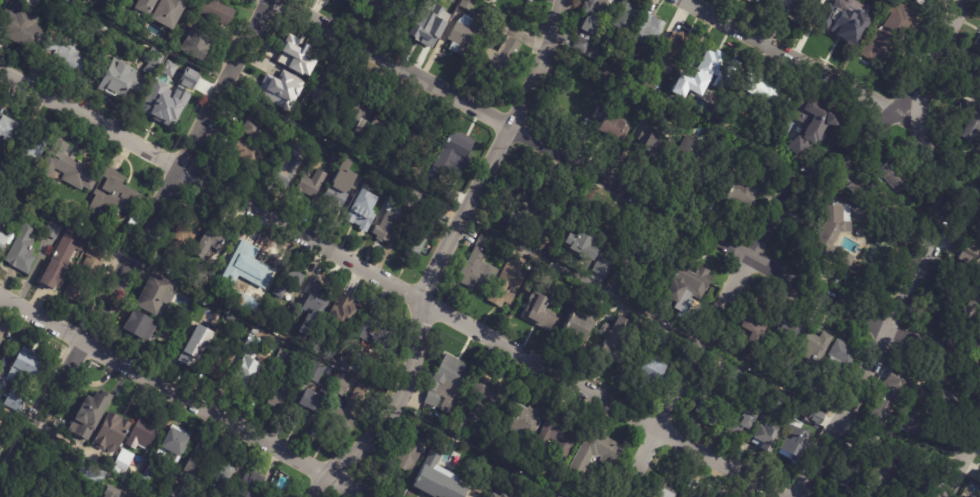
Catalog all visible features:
building: (88, 0)
building: (344, 0)
building: (529, 0)
building: (532, 0)
building: (746, 0)
building: (90, 1)
building: (757, 1)
building: (24, 2)
building: (921, 2)
building: (470, 4)
building: (146, 6)
building: (396, 6)
building: (792, 6)
building: (214, 9)
building: (171, 11)
building: (589, 15)
building: (619, 16)
building: (840, 17)
building: (435, 24)
building: (646, 27)
building: (23, 28)
building: (104, 32)
building: (887, 35)
building: (465, 36)
building: (201, 44)
building: (579, 44)
building: (979, 44)
building: (671, 53)
building: (173, 56)
road: (800, 56)
building: (65, 57)
building: (296, 58)
building: (501, 60)
building: (155, 61)
building: (698, 73)
building: (973, 73)
building: (606, 74)
building: (727, 74)
building: (121, 80)
building: (328, 87)
building: (280, 89)
building: (178, 94)
building: (762, 94)
building: (975, 95)
building: (357, 101)
building: (805, 119)
building: (390, 121)
building: (606, 123)
building: (966, 125)
building: (263, 127)
building: (10, 129)
building: (652, 138)
building: (424, 140)
building: (309, 143)
building: (35, 148)
building: (688, 148)
building: (382, 153)
building: (251, 156)
building: (458, 157)
building: (337, 160)
building: (959, 165)
building: (288, 166)
building: (71, 167)
building: (420, 173)
building: (871, 177)
building: (313, 183)
building: (22, 185)
road: (624, 188)
building: (341, 189)
building: (743, 192)
building: (113, 197)
building: (416, 199)
building: (394, 205)
building: (367, 211)
building: (434, 214)
building: (513, 217)
building: (538, 221)
building: (193, 224)
building: (387, 228)
building: (905, 228)
building: (54, 230)
building: (831, 236)
building: (2, 243)
building: (212, 243)
road: (135, 244)
building: (580, 244)
building: (414, 245)
building: (23, 250)
road: (933, 253)
building: (967, 254)
road: (447, 256)
building: (65, 257)
building: (978, 259)
building: (602, 265)
building: (474, 271)
building: (266, 272)
building: (549, 272)
building: (87, 273)
building: (203, 276)
building: (952, 278)
road: (737, 281)
building: (290, 282)
building: (505, 282)
road: (394, 284)
building: (680, 286)
building: (158, 297)
building: (940, 300)
building: (592, 306)
building: (259, 307)
building: (973, 308)
building: (318, 309)
building: (536, 313)
building: (342, 314)
building: (284, 320)
building: (747, 323)
building: (143, 326)
building: (573, 331)
building: (789, 331)
building: (374, 332)
building: (0, 337)
building: (611, 337)
building: (656, 338)
building: (278, 341)
building: (1, 342)
building: (813, 345)
building: (206, 354)
building: (836, 357)
building: (285, 359)
building: (348, 361)
building: (251, 364)
building: (642, 370)
building: (317, 372)
building: (20, 379)
building: (344, 389)
building: (284, 390)
building: (492, 390)
building: (445, 391)
road: (182, 397)
building: (745, 399)
building: (887, 399)
building: (939, 400)
building: (707, 407)
building: (315, 408)
building: (348, 412)
building: (91, 415)
building: (814, 416)
building: (908, 421)
building: (528, 423)
building: (410, 431)
building: (111, 434)
building: (762, 434)
building: (1, 435)
building: (143, 436)
building: (560, 437)
building: (793, 444)
building: (866, 445)
building: (173, 448)
building: (1, 449)
building: (411, 452)
building: (598, 452)
building: (920, 452)
building: (1, 456)
building: (198, 465)
road: (964, 466)
building: (222, 472)
building: (135, 473)
building: (842, 473)
building: (150, 474)
building: (97, 475)
building: (441, 477)
building: (893, 477)
building: (978, 479)
building: (564, 482)
building: (250, 486)
building: (671, 490)
building: (176, 491)
building: (140, 495)
building: (505, 495)
building: (268, 496)
building: (496, 496)
building: (685, 496)
building: (971, 496)

